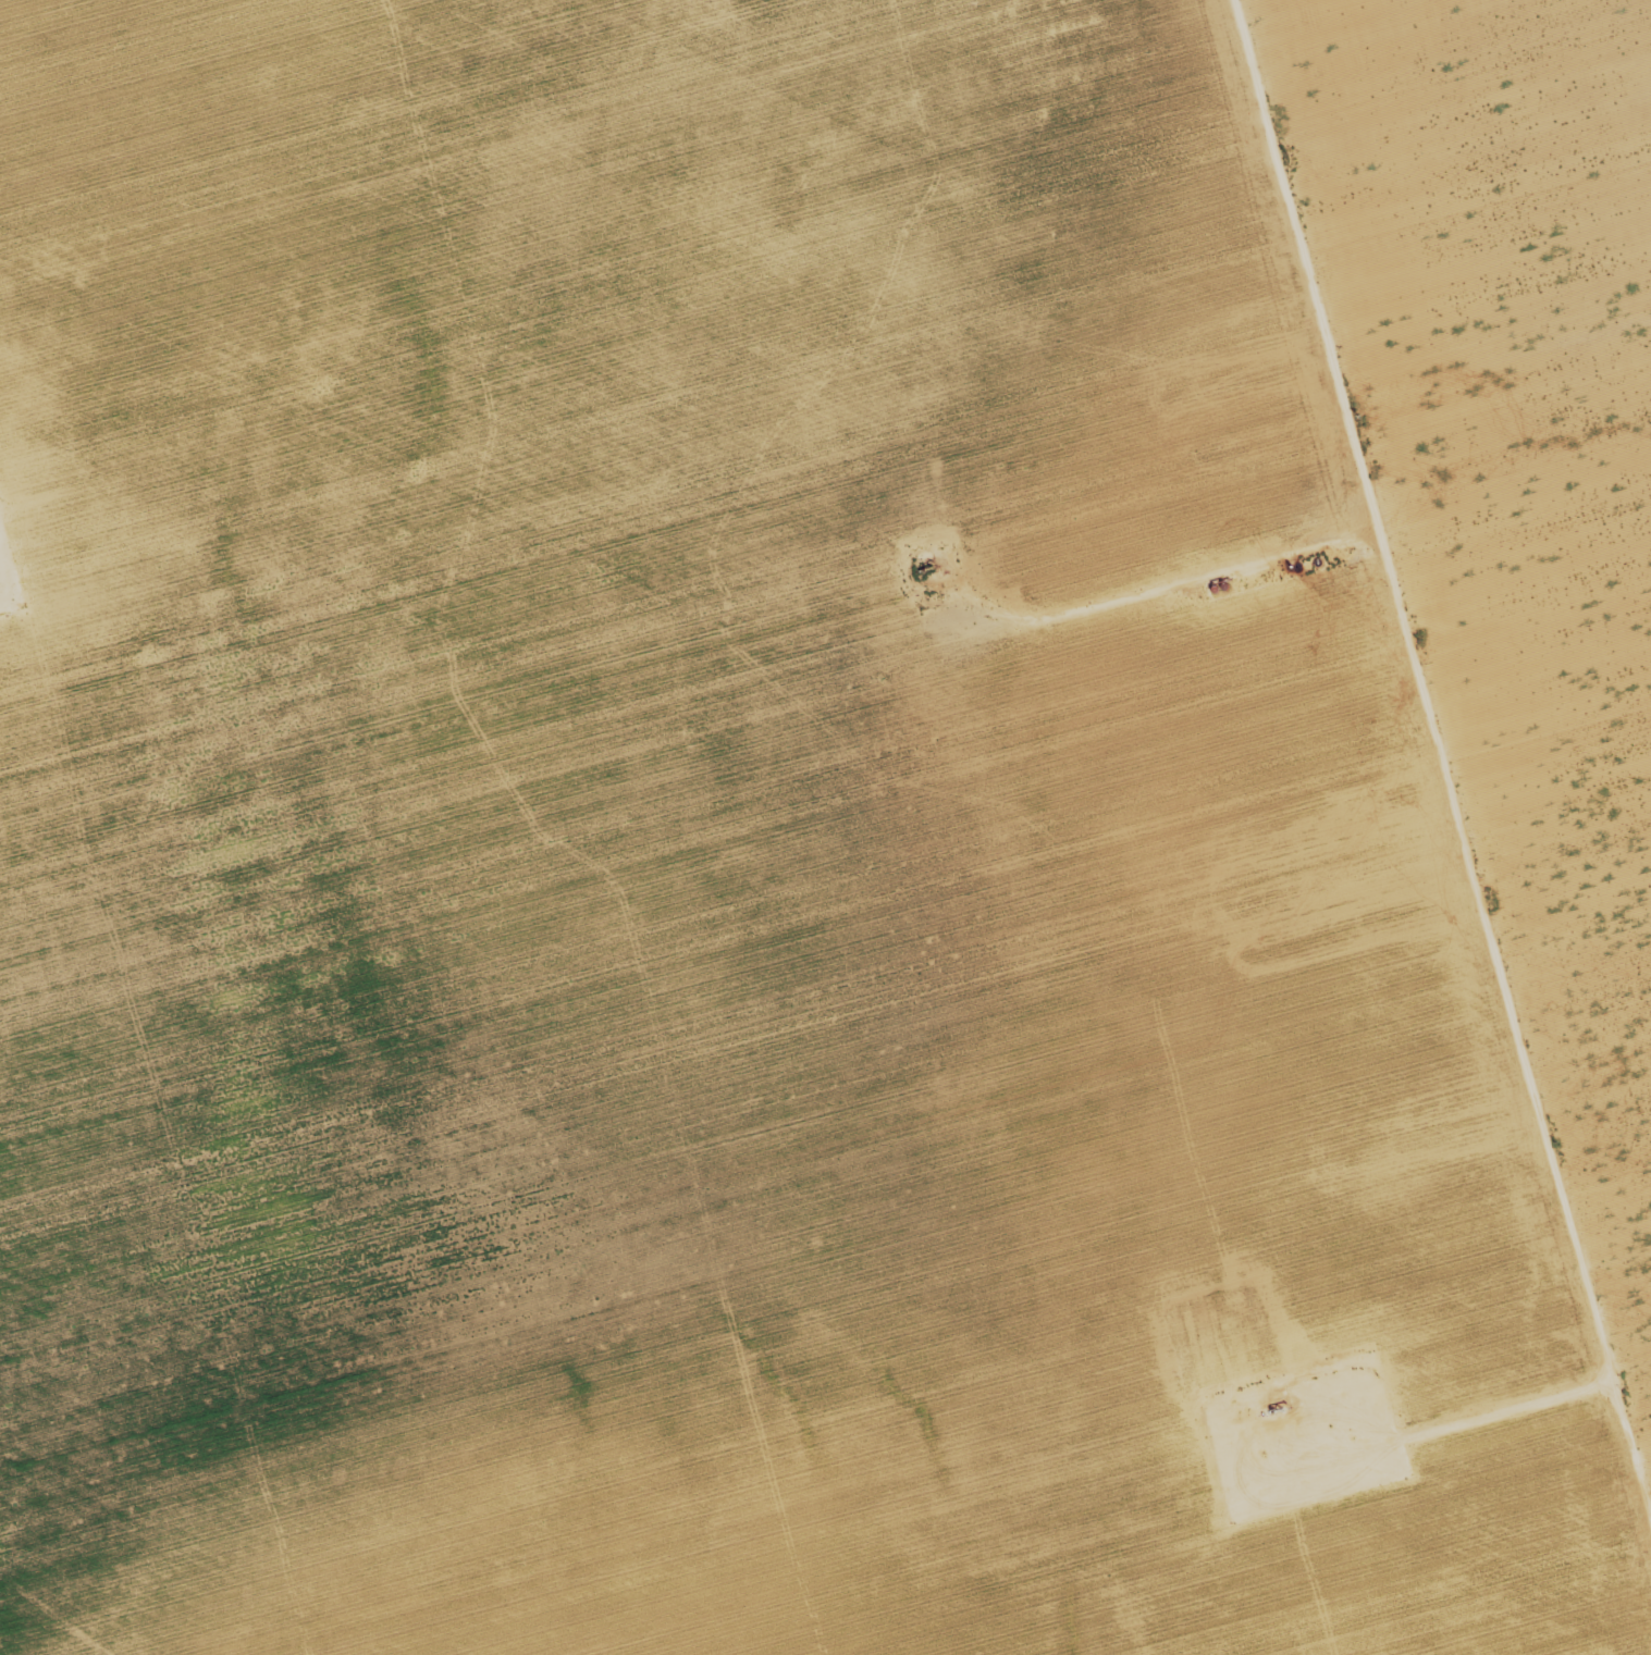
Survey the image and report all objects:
road: (1442, 731)

